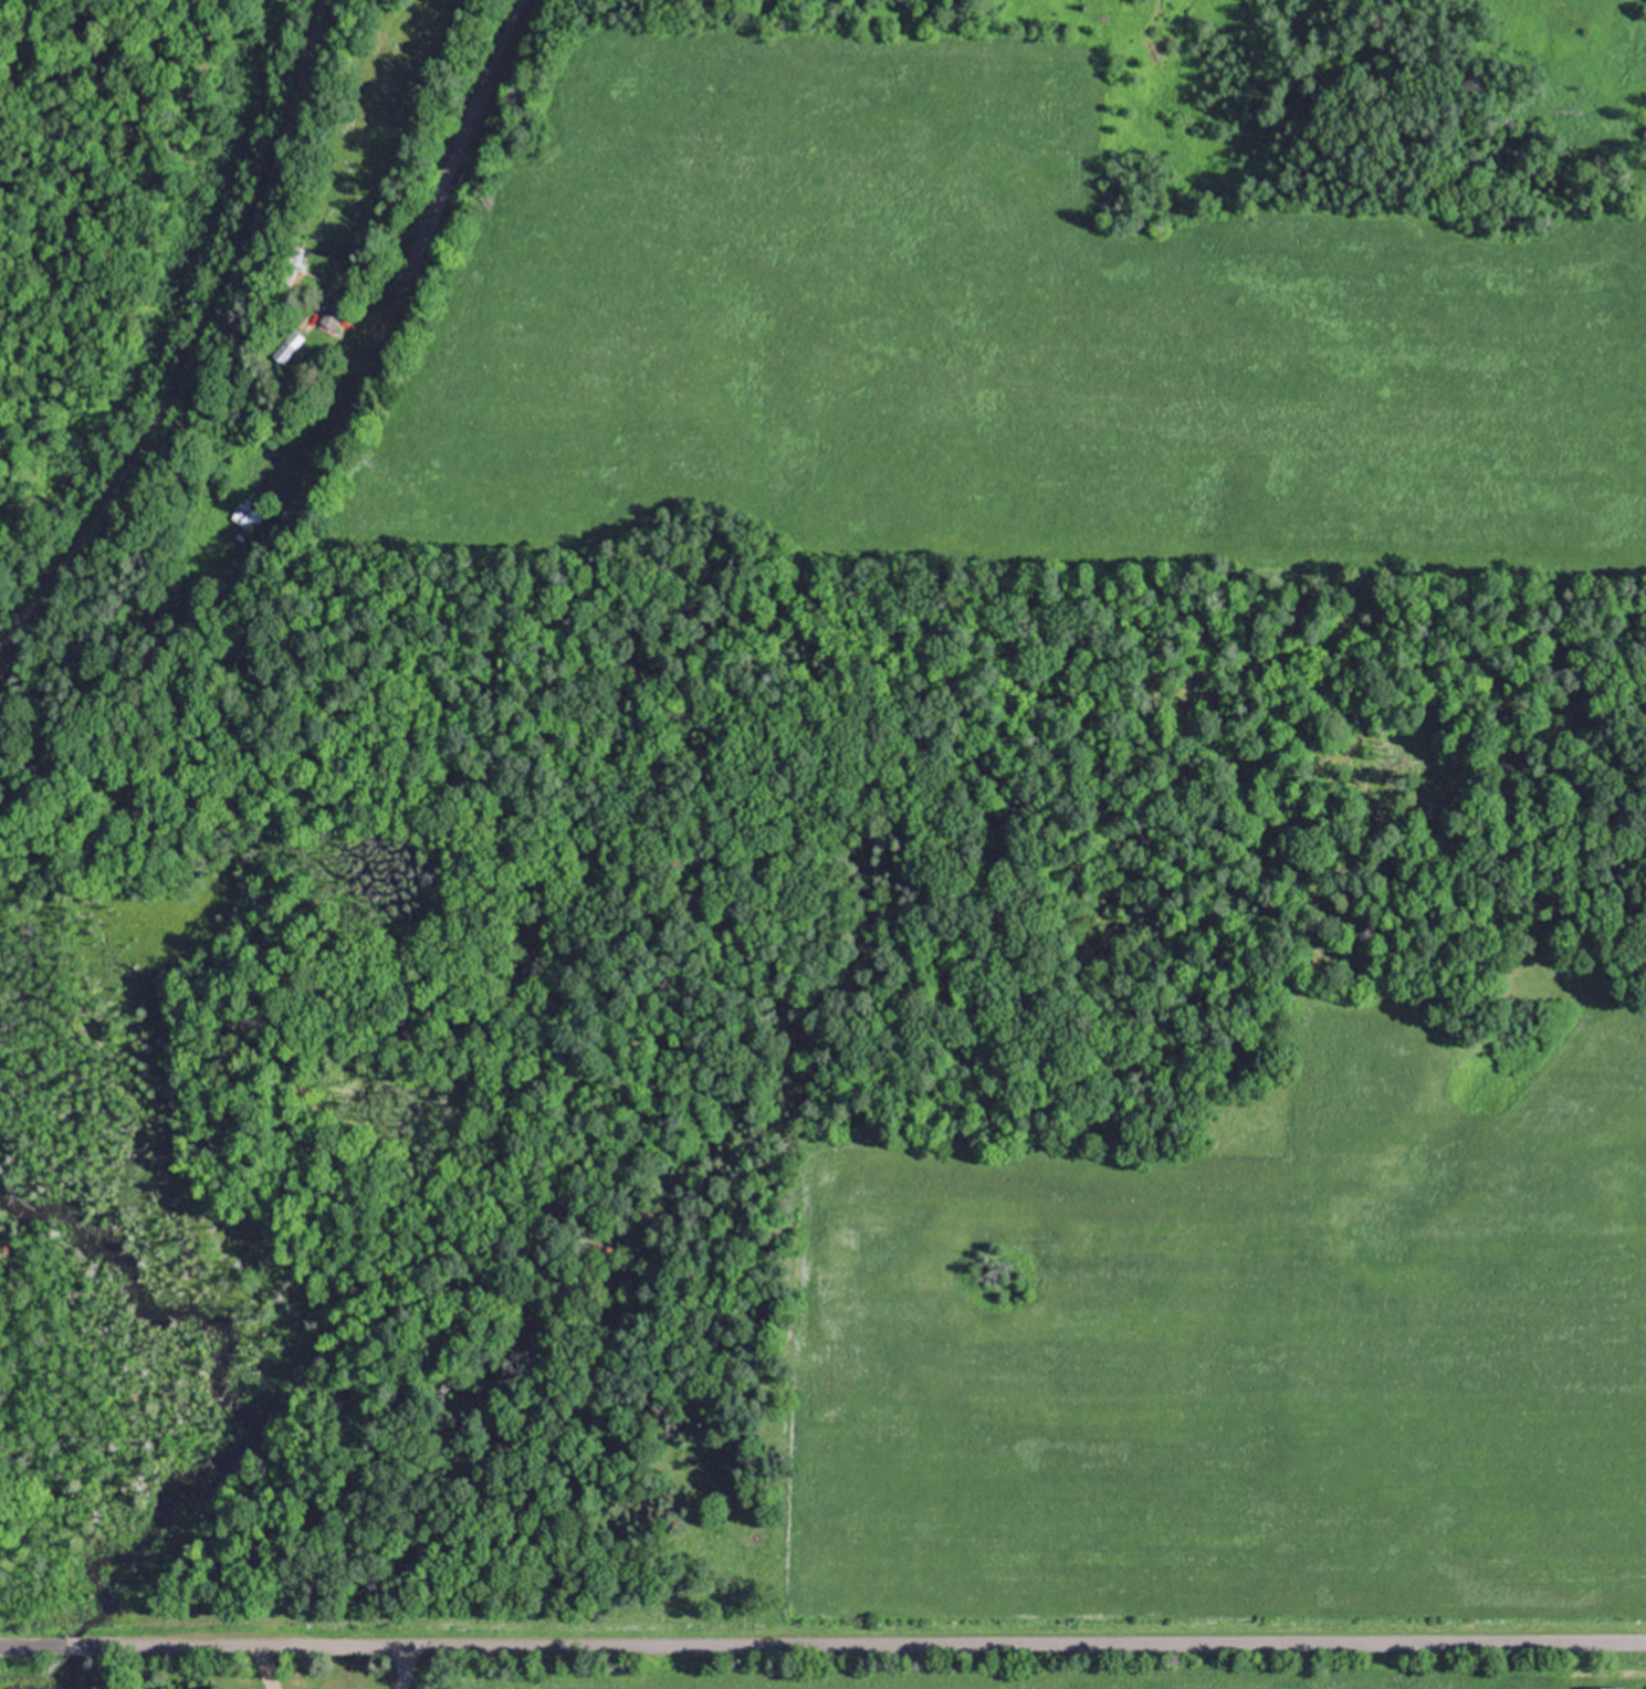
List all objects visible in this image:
road: (445, 150)
building: (295, 259)
building: (329, 317)
road: (193, 337)
building: (286, 346)
building: (245, 514)
road: (822, 1639)

